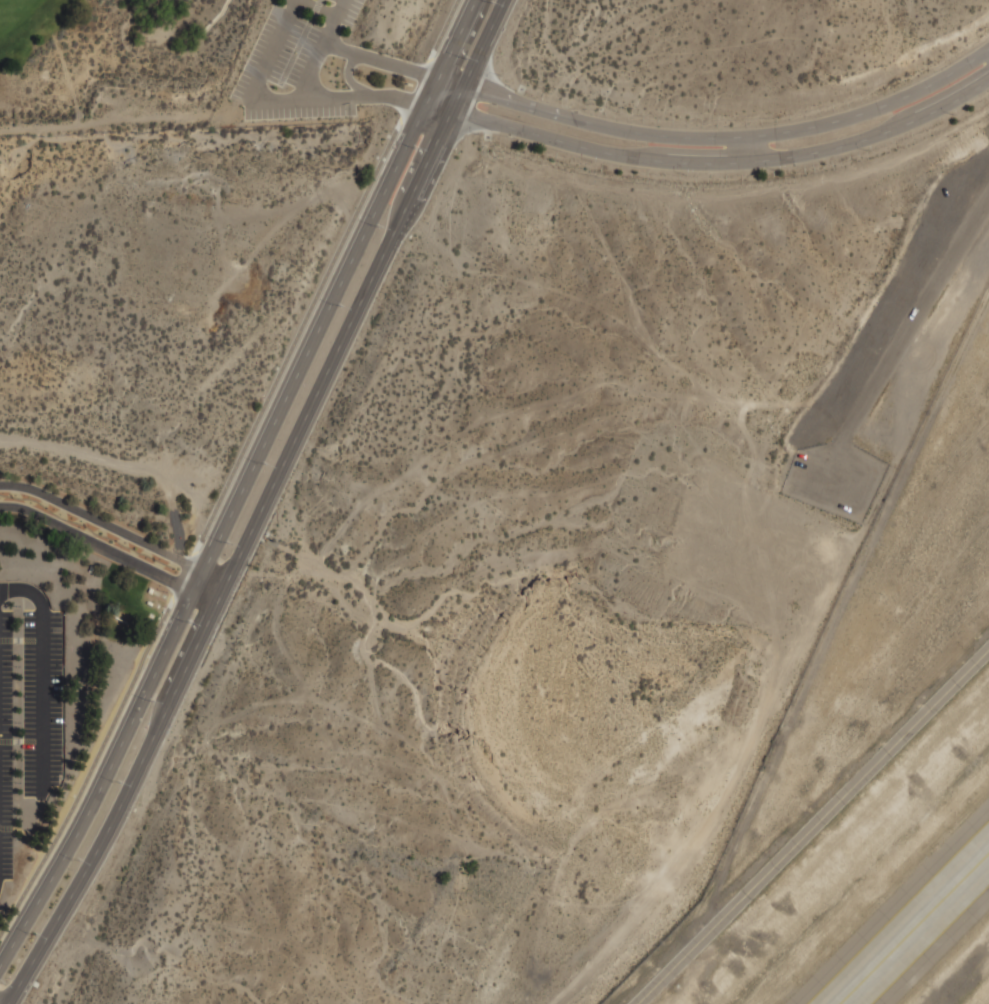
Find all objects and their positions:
road: (320, 7)
road: (456, 38)
road: (299, 41)
road: (320, 48)
road: (477, 55)
road: (381, 59)
park: (204, 62)
parking lot: (294, 62)
road: (348, 74)
road: (249, 94)
road: (387, 94)
road: (440, 107)
road: (718, 136)
road: (725, 162)
road: (316, 293)
road: (225, 522)
road: (114, 527)
road: (108, 551)
road: (235, 560)
road: (20, 638)
road: (41, 673)
parking lot: (28, 703)
road: (16, 740)
road: (94, 765)
airport: (871, 767)
road: (812, 825)
road: (25, 836)
airport taxiway: (916, 930)

